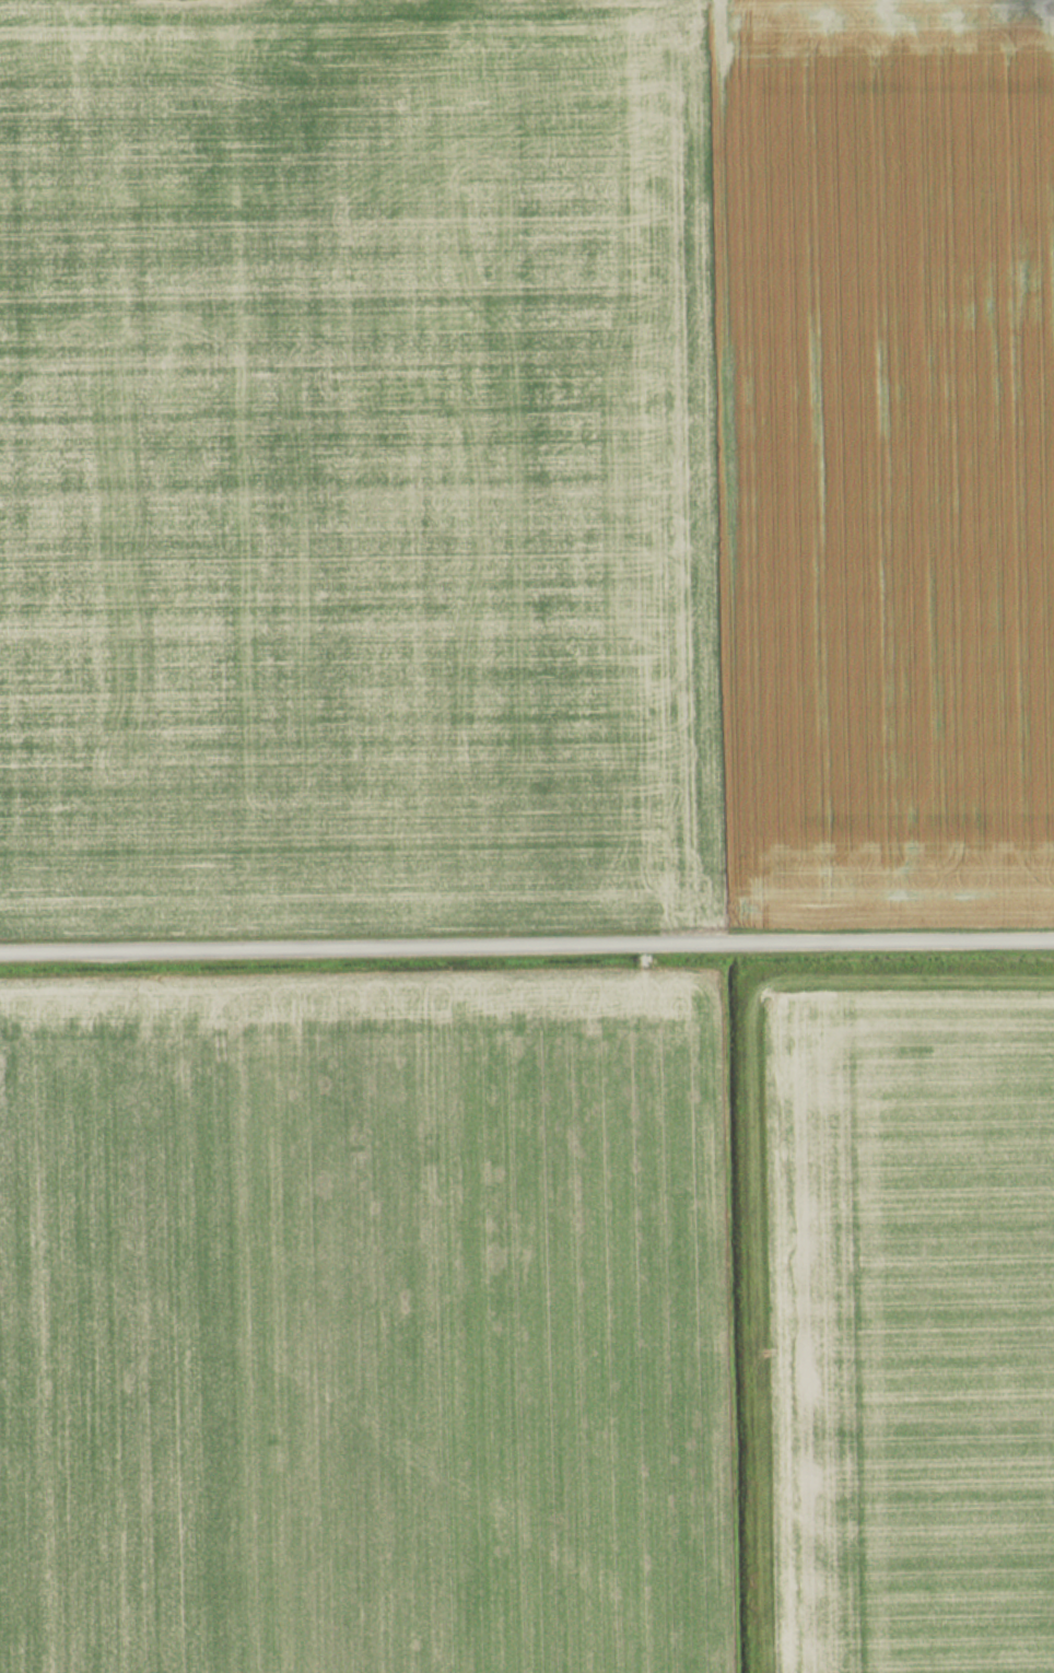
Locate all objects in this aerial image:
crop: (526, 464)
road: (526, 945)
crop: (910, 1320)
crop: (361, 1336)

